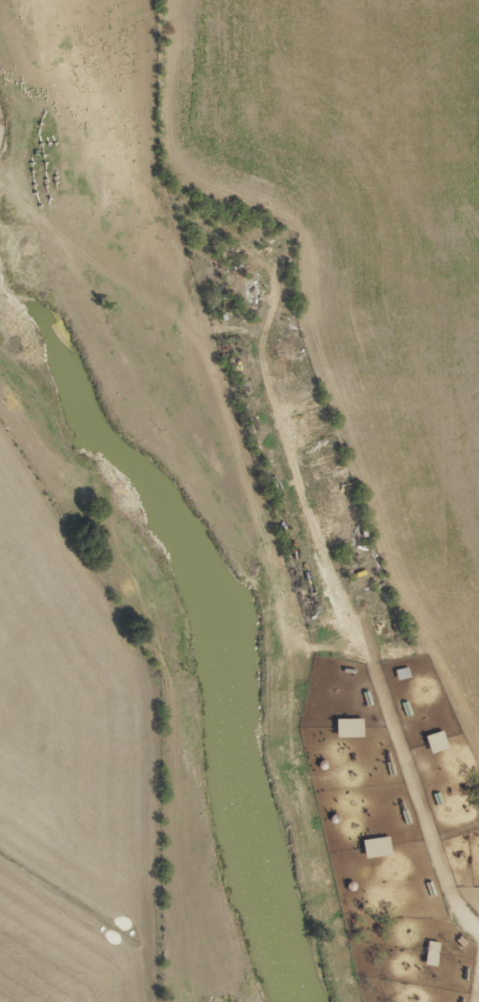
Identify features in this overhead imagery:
building: (402, 674)

